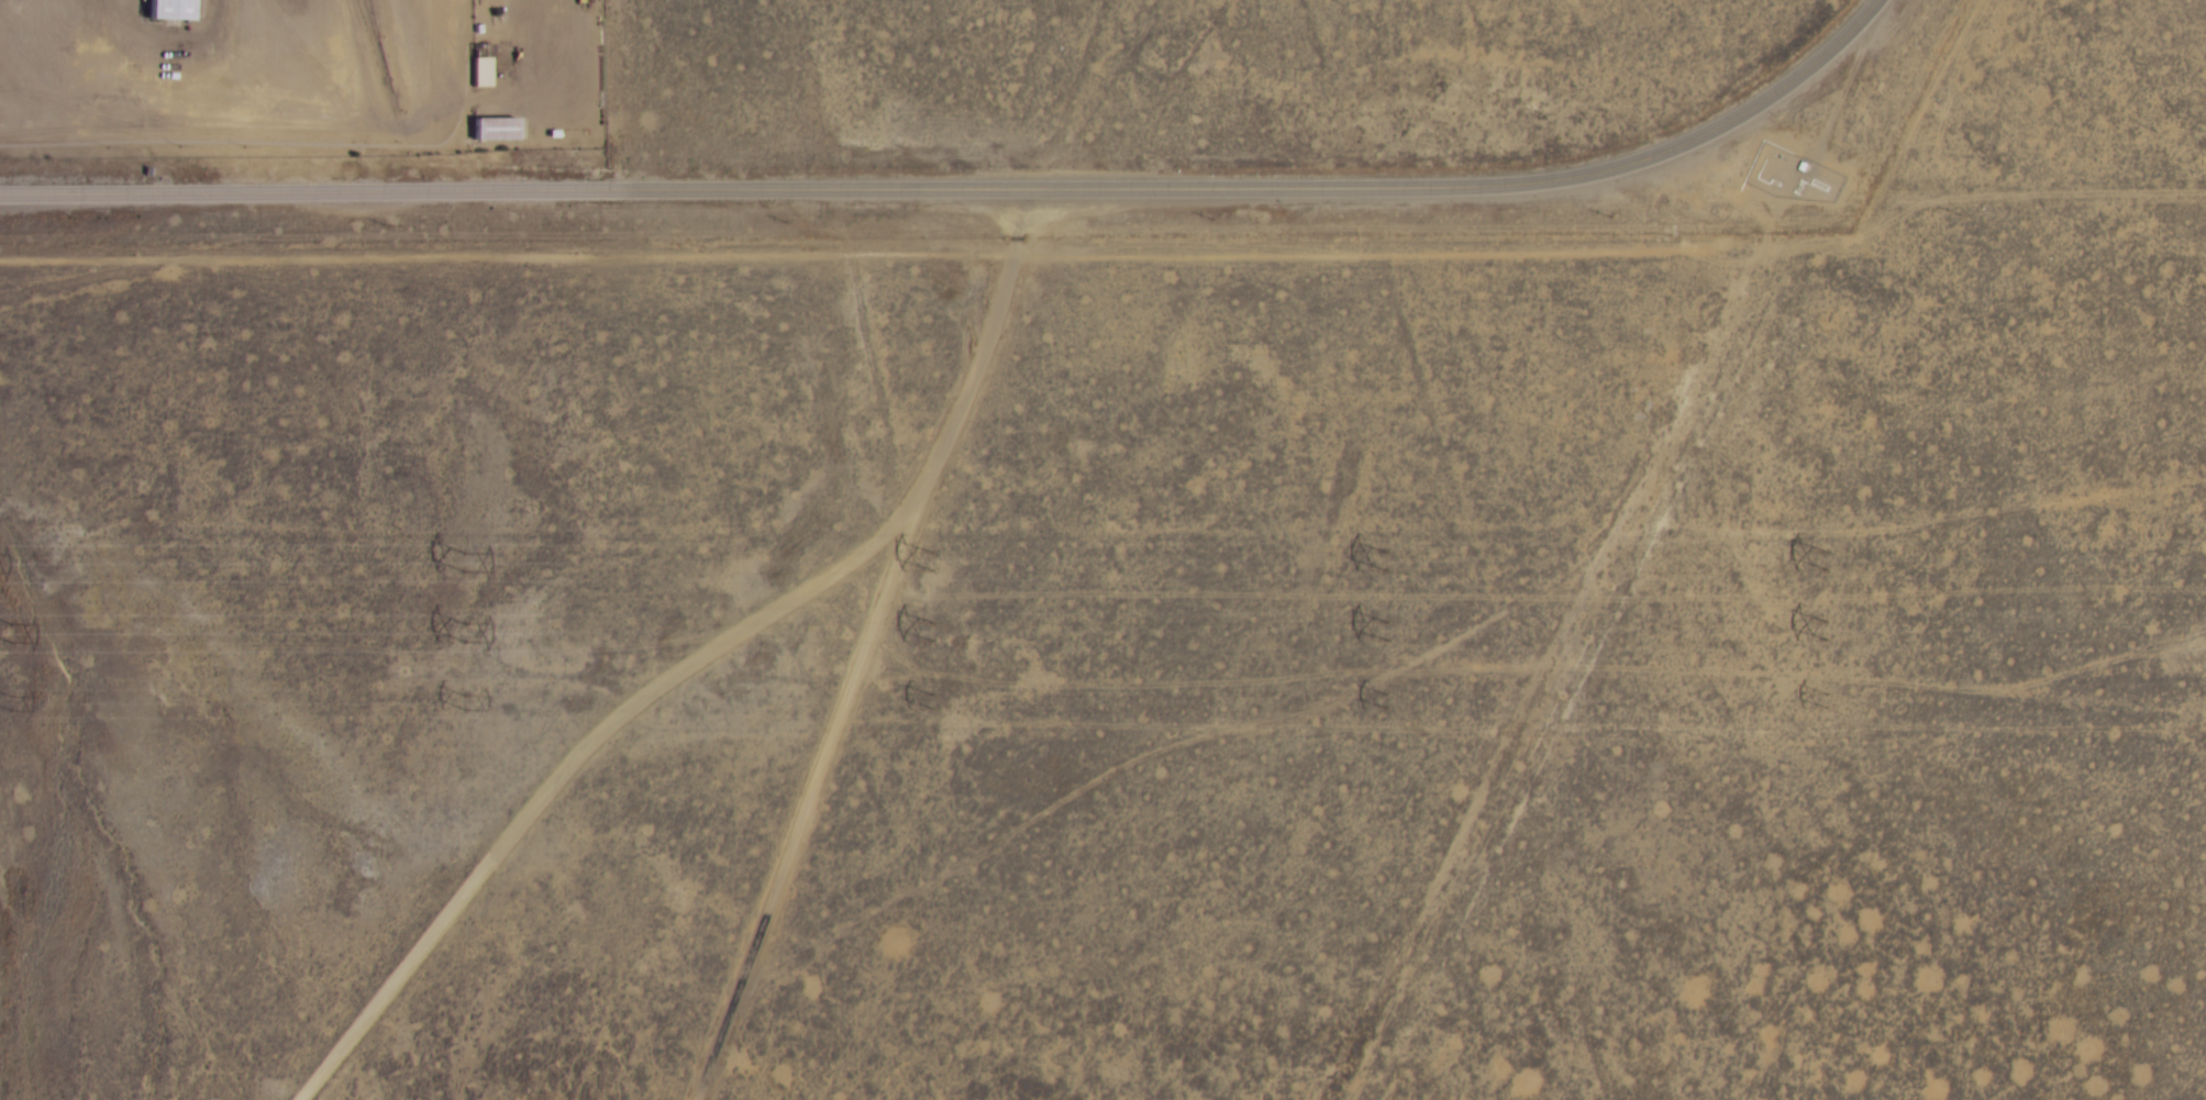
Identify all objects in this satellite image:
building: (174, 10)
railway: (369, 19)
railway: (379, 56)
building: (483, 66)
power plant: (307, 76)
building: (497, 130)
road: (975, 191)
road: (880, 337)
power tower: (1830, 555)
power tower: (464, 556)
power tower: (934, 558)
power tower: (1389, 560)
power tower: (1393, 625)
power tower: (1826, 626)
power tower: (933, 627)
power tower: (10, 629)
power tower: (466, 629)
road: (1448, 655)
road: (705, 659)
power tower: (11, 698)
power tower: (1394, 698)
power tower: (1828, 698)
power tower: (935, 699)
power tower: (469, 700)
road: (810, 790)
road: (1494, 832)

